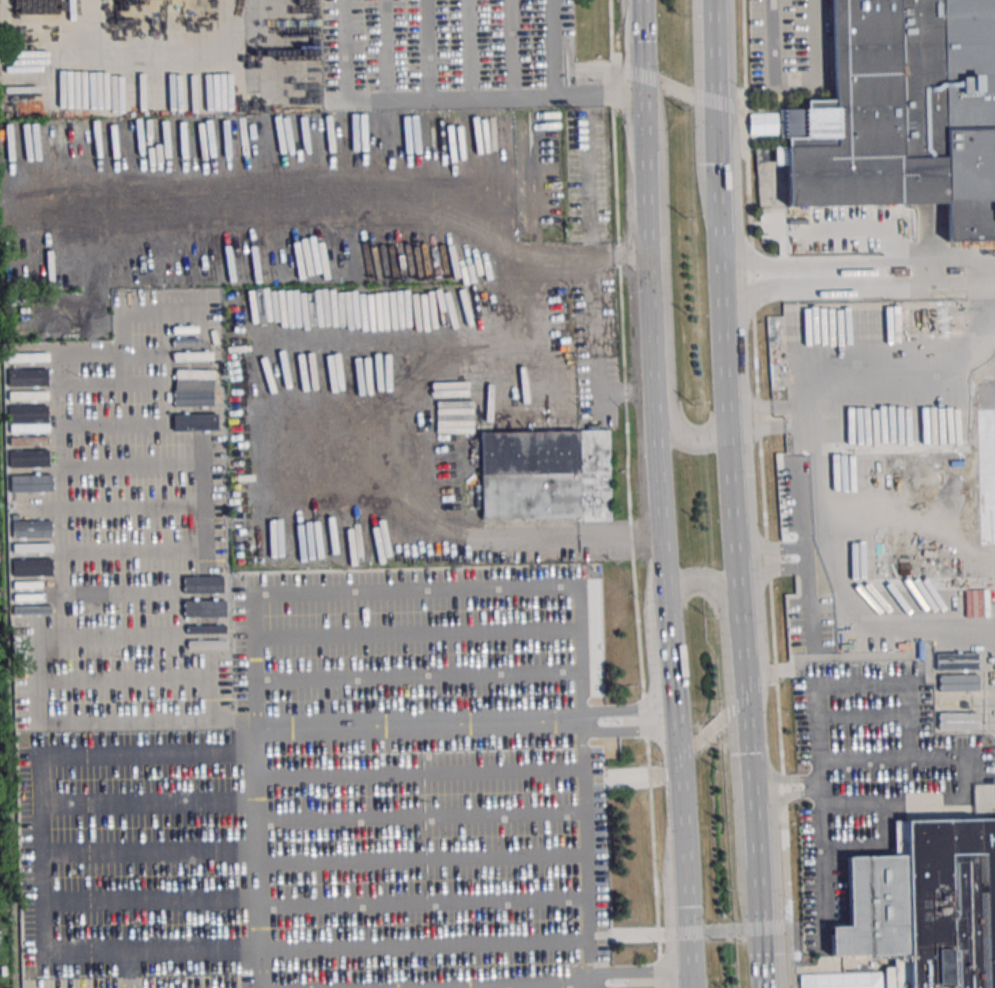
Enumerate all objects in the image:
road: (643, 45)
road: (710, 49)
traffic signals: (644, 75)
road: (796, 79)
road: (445, 96)
traffic signals: (712, 98)
building: (903, 113)
park: (771, 187)
road: (715, 191)
road: (648, 244)
road: (667, 322)
road: (593, 351)
road: (830, 388)
road: (725, 403)
road: (401, 412)
building: (544, 475)
road: (661, 489)
road: (762, 494)
road: (734, 567)
road: (706, 583)
road: (738, 629)
road: (945, 633)
road: (668, 643)
traffic signals: (742, 701)
road: (616, 707)
road: (734, 707)
road: (742, 719)
road: (255, 725)
road: (617, 732)
traffic signals: (675, 759)
road: (678, 761)
road: (52, 778)
road: (635, 778)
road: (749, 829)
road: (820, 830)
road: (680, 845)
building: (926, 906)
road: (753, 928)
traffic signals: (754, 929)
traffic signals: (686, 933)
road: (634, 970)

